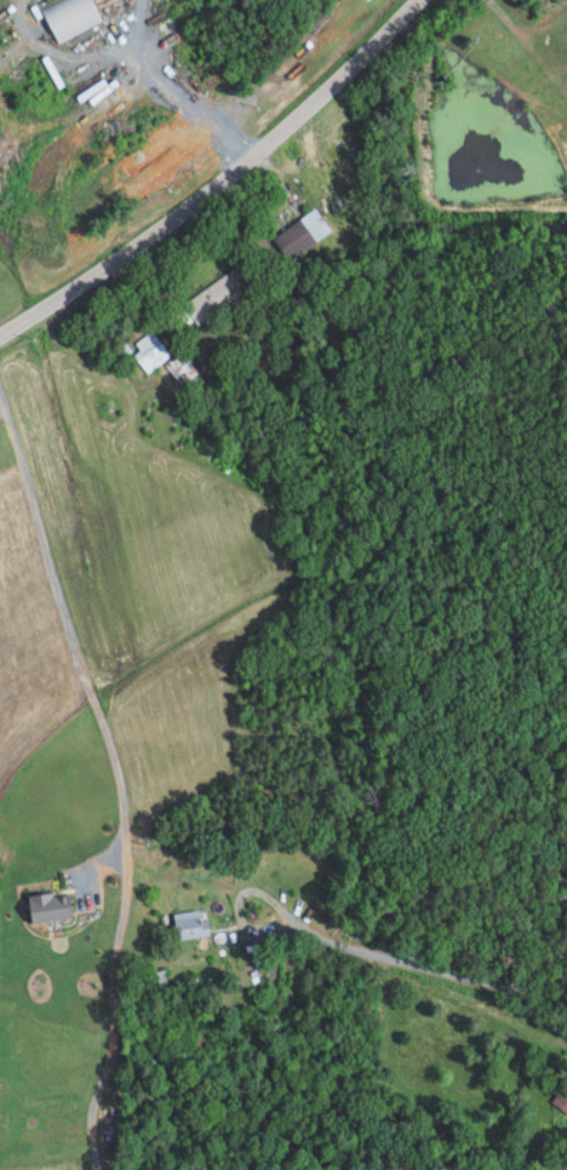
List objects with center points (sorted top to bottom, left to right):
building: (71, 16)
road: (184, 88)
road: (217, 180)
building: (303, 233)
building: (219, 292)
building: (151, 349)
building: (181, 363)
road: (2, 409)
road: (233, 555)
road: (71, 637)
building: (52, 905)
building: (194, 923)
road: (552, 928)
road: (413, 958)
road: (111, 999)
building: (562, 1097)
building: (109, 1111)

